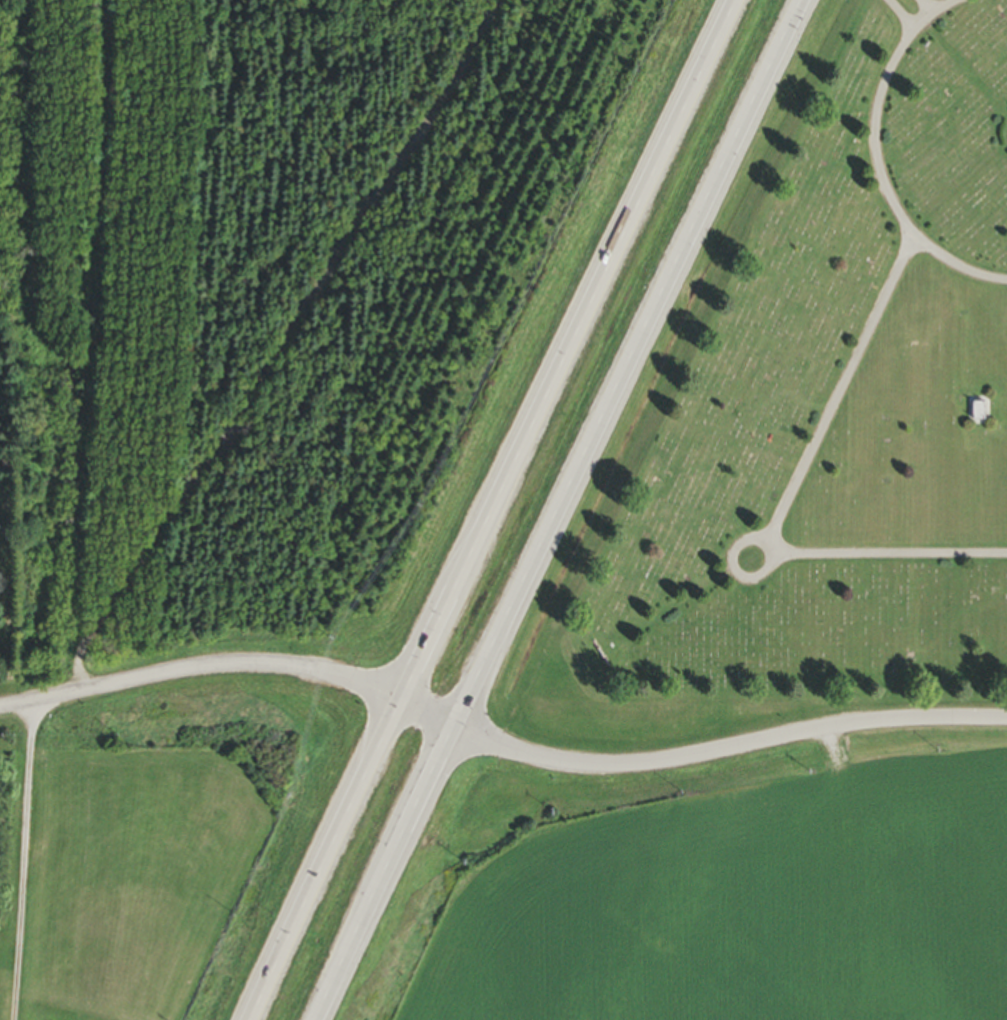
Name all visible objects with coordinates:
road: (932, 7)
road: (909, 14)
road: (932, 19)
road: (898, 207)
road: (843, 387)
park: (820, 412)
building: (976, 412)
road: (557, 509)
road: (486, 511)
road: (897, 559)
road: (739, 562)
road: (199, 665)
road: (697, 754)
road: (21, 858)

